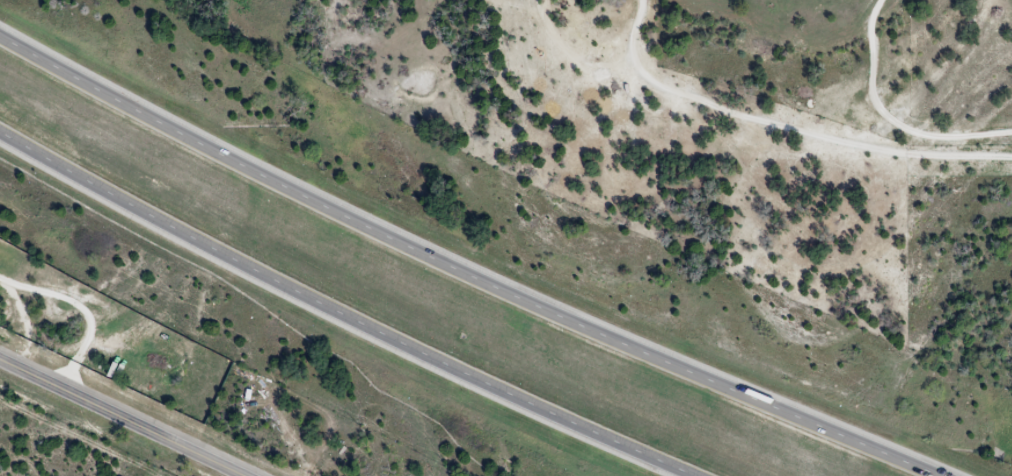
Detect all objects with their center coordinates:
road: (893, 117)
road: (786, 127)
road: (464, 267)
road: (346, 307)
road: (83, 310)
road: (23, 321)
building: (154, 363)
road: (124, 417)

